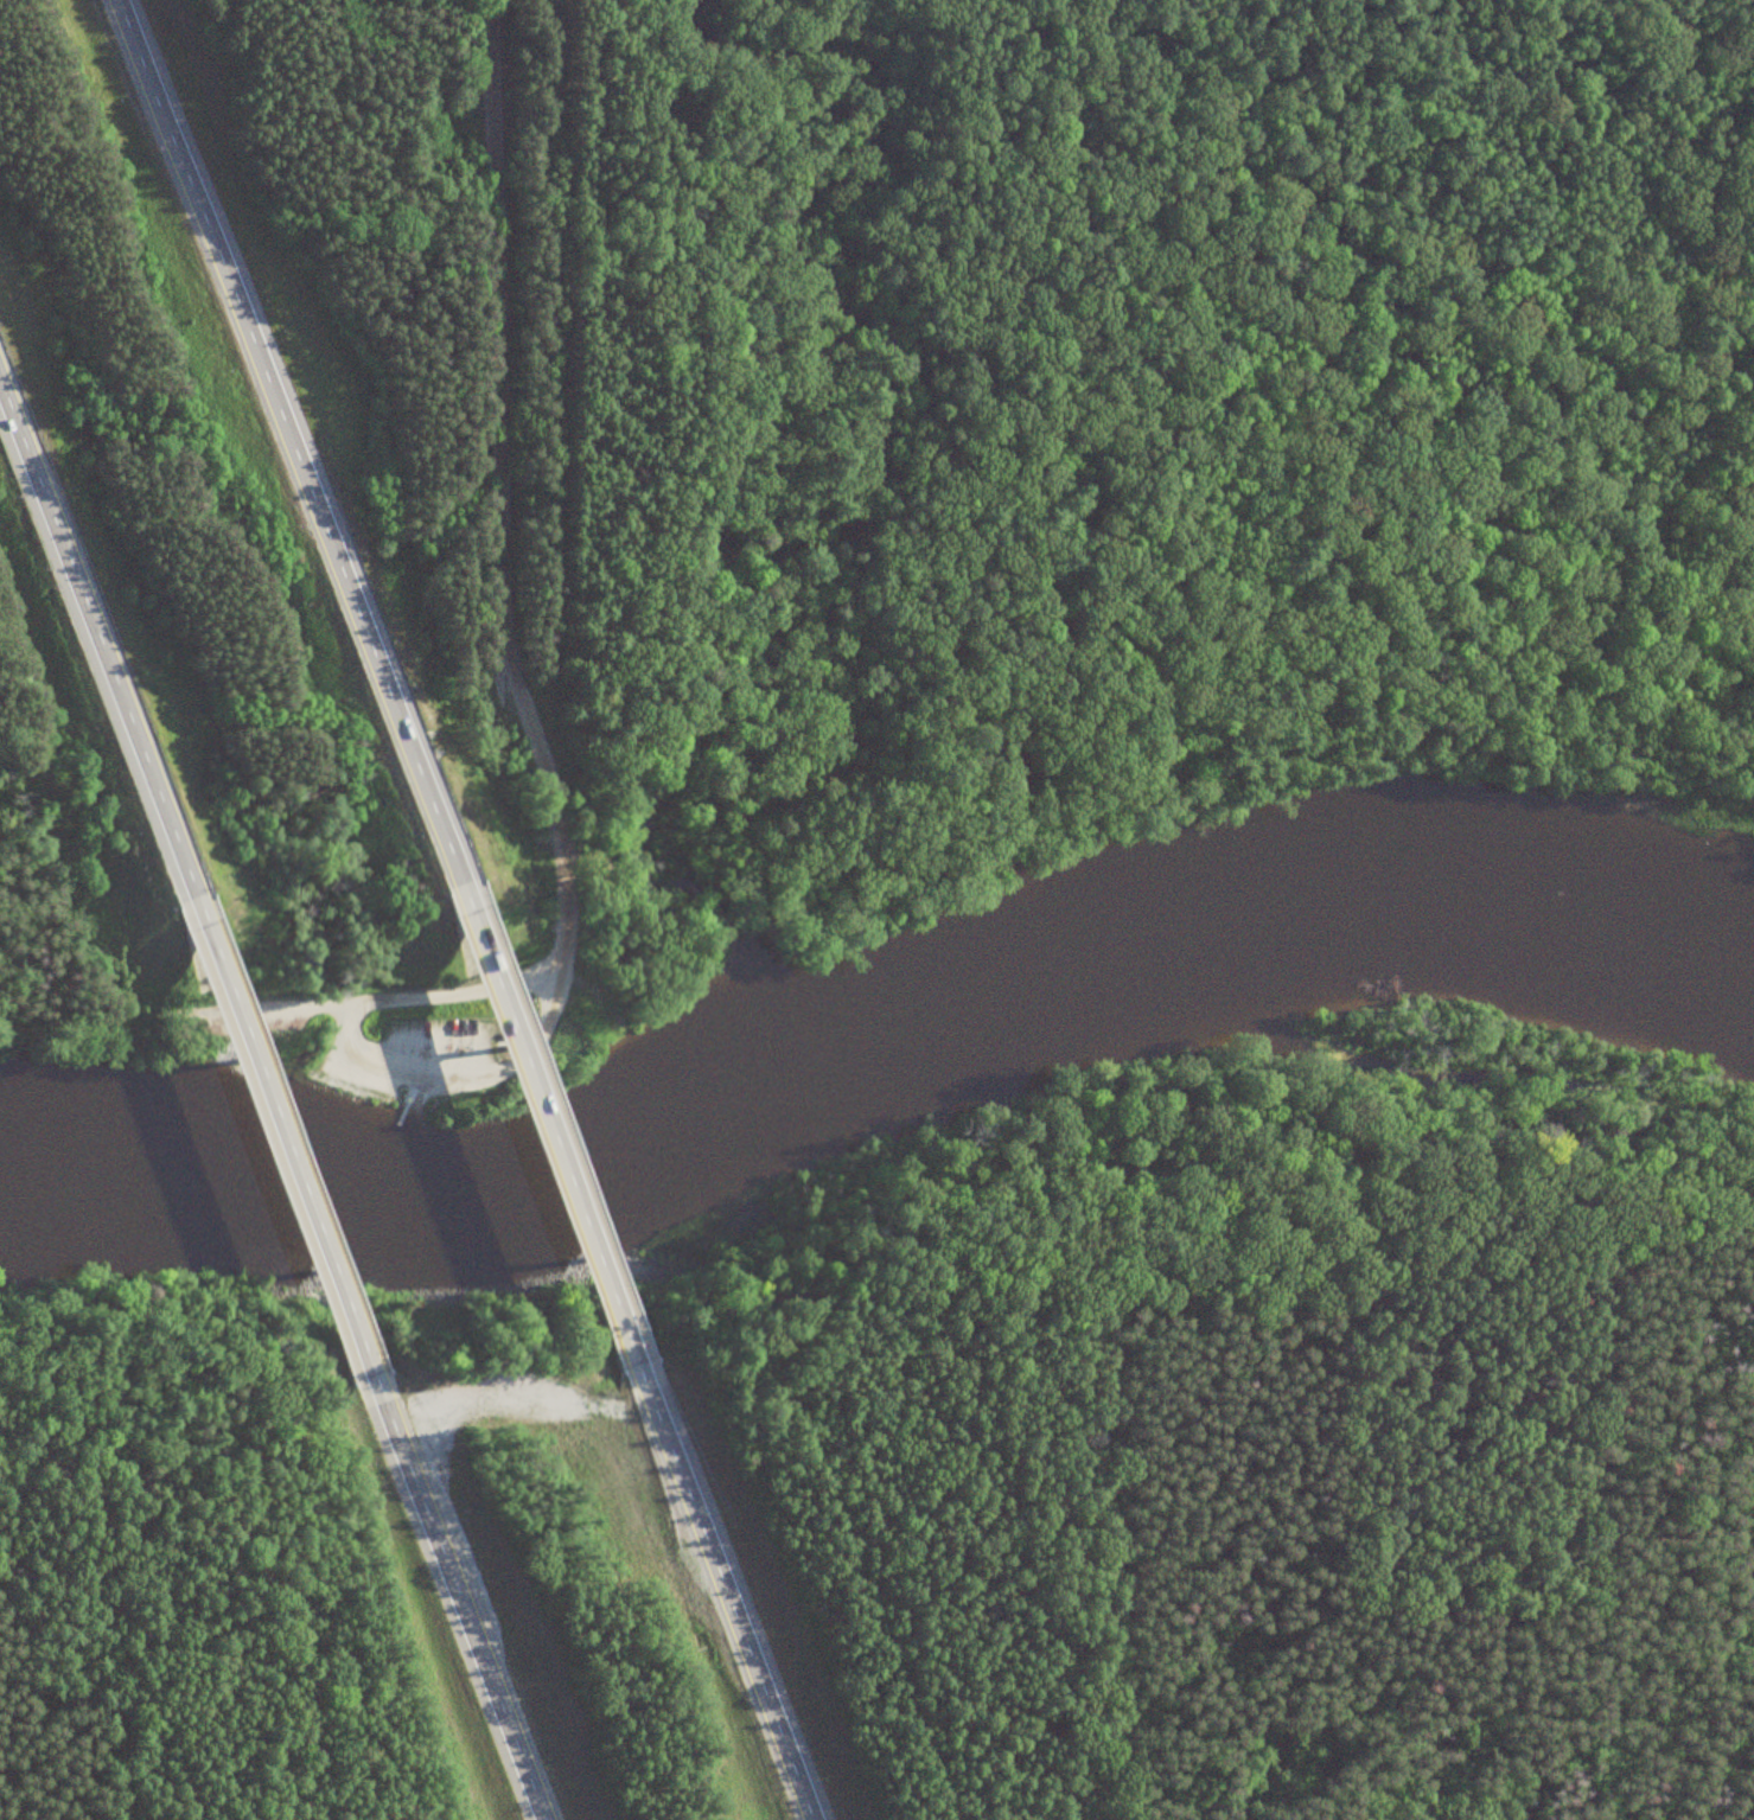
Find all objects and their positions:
road: (287, 440)
road: (497, 483)
road: (102, 649)
parking lot: (451, 1034)
river: (878, 1045)
road: (372, 1055)
road: (425, 1093)
road: (546, 1126)
road: (283, 1160)
road: (729, 1595)
road: (459, 1613)

